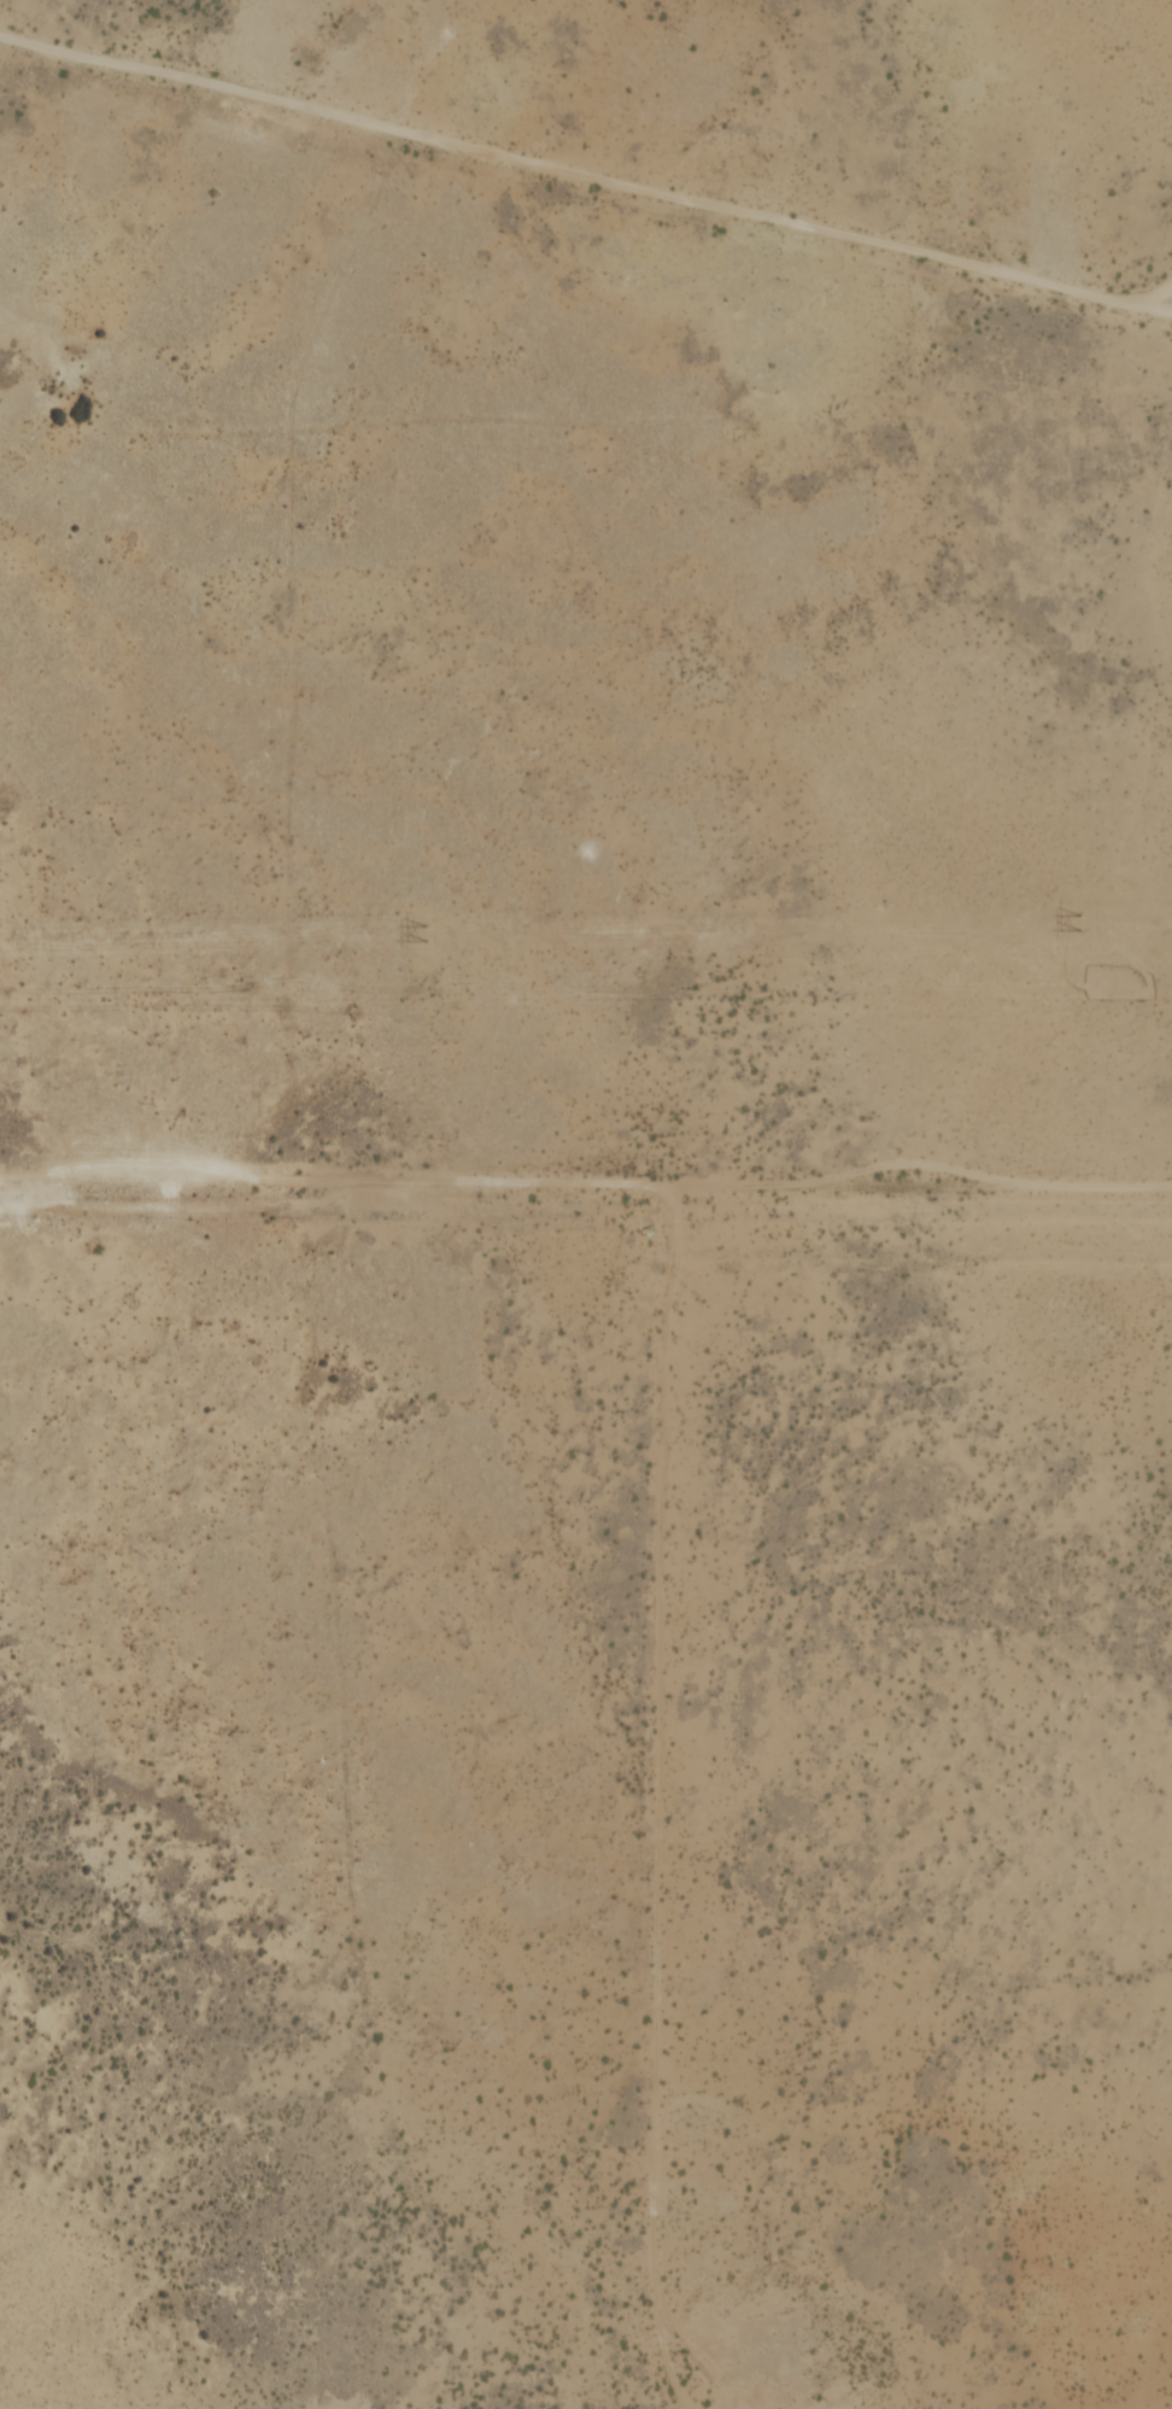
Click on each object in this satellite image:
road: (586, 177)
road: (1141, 308)
power tower: (1078, 922)
power tower: (424, 932)
road: (585, 1182)

